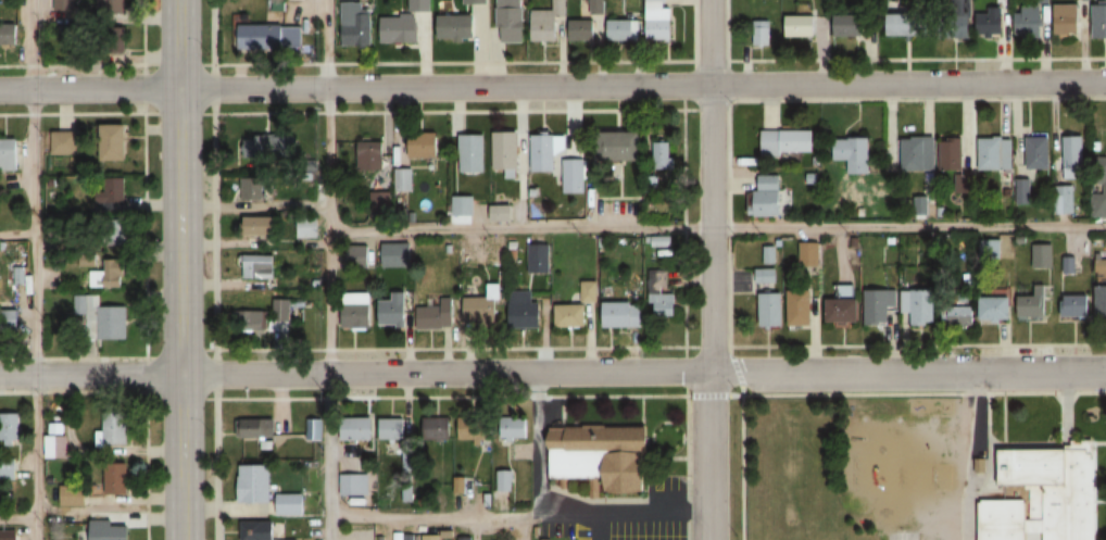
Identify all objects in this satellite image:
building: (419, 5)
building: (110, 7)
building: (1066, 18)
building: (510, 21)
building: (658, 21)
building: (1099, 21)
building: (464, 22)
building: (546, 22)
building: (990, 22)
building: (1028, 22)
building: (354, 23)
building: (7, 24)
building: (847, 24)
building: (907, 24)
building: (799, 25)
building: (399, 29)
building: (581, 29)
building: (624, 29)
building: (759, 33)
building: (271, 37)
road: (552, 85)
road: (325, 115)
road: (30, 117)
building: (788, 141)
building: (63, 142)
building: (113, 142)
building: (425, 145)
building: (620, 146)
building: (271, 147)
building: (506, 150)
building: (545, 151)
building: (663, 152)
building: (918, 152)
building: (9, 153)
building: (473, 153)
building: (853, 153)
building: (995, 153)
building: (1036, 153)
building: (366, 154)
building: (953, 155)
building: (1072, 158)
building: (574, 176)
building: (402, 178)
building: (253, 188)
building: (1021, 191)
building: (110, 193)
building: (767, 194)
building: (1099, 199)
building: (1063, 200)
building: (463, 205)
building: (500, 213)
building: (260, 225)
building: (309, 226)
road: (716, 228)
road: (16, 236)
building: (666, 239)
building: (606, 240)
building: (996, 241)
building: (992, 248)
building: (399, 252)
building: (772, 252)
building: (812, 252)
building: (361, 253)
building: (1043, 254)
building: (542, 256)
building: (1102, 260)
building: (1069, 262)
building: (260, 265)
road: (178, 269)
road: (214, 269)
road: (711, 269)
building: (106, 273)
building: (768, 273)
building: (662, 280)
building: (593, 289)
building: (849, 290)
building: (1103, 299)
building: (666, 302)
building: (880, 302)
building: (1034, 302)
building: (1077, 303)
building: (802, 304)
building: (926, 304)
building: (486, 305)
building: (997, 305)
building: (775, 306)
building: (284, 307)
building: (395, 307)
building: (846, 307)
building: (527, 309)
building: (357, 313)
building: (574, 313)
building: (624, 313)
building: (437, 314)
building: (965, 314)
building: (99, 317)
building: (254, 318)
building: (20, 325)
road: (738, 368)
road: (642, 372)
parking lot: (954, 374)
road: (90, 376)
road: (34, 377)
road: (327, 386)
road: (922, 393)
road: (639, 395)
building: (436, 425)
building: (474, 425)
building: (260, 426)
building: (517, 426)
building: (315, 427)
building: (393, 427)
building: (362, 428)
building: (9, 429)
building: (112, 429)
building: (55, 447)
building: (603, 454)
building: (411, 457)
building: (978, 464)
road: (740, 467)
building: (7, 470)
building: (506, 478)
building: (116, 479)
building: (257, 481)
building: (462, 482)
building: (355, 484)
building: (410, 491)
building: (72, 494)
building: (1045, 494)
building: (293, 502)
road: (223, 506)
road: (505, 514)
road: (17, 520)
building: (260, 529)
road: (36, 530)
building: (108, 530)
building: (8, 536)
building: (400, 536)
park: (901, 536)
building: (435, 537)
building: (466, 538)
building: (288, 539)
building: (548, 539)

